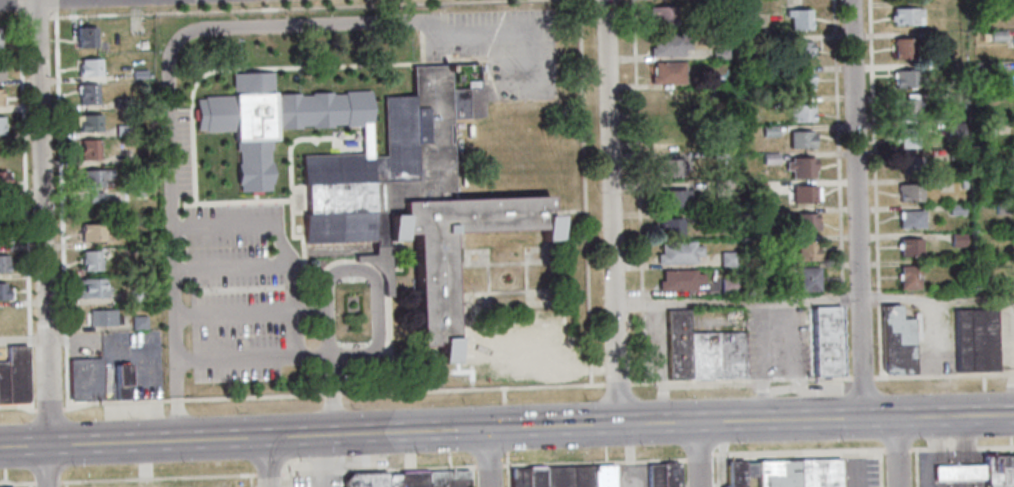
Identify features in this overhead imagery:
road: (40, 1)
road: (18, 4)
road: (54, 4)
building: (714, 6)
road: (239, 9)
building: (661, 15)
building: (907, 17)
building: (798, 18)
road: (335, 22)
building: (764, 30)
building: (997, 35)
building: (984, 36)
building: (937, 37)
building: (85, 38)
building: (1013, 39)
building: (766, 41)
building: (668, 45)
building: (903, 49)
building: (799, 50)
building: (719, 53)
building: (89, 67)
building: (951, 67)
building: (981, 69)
building: (0, 71)
building: (667, 73)
building: (138, 74)
building: (905, 78)
building: (798, 81)
building: (88, 94)
building: (0, 97)
building: (983, 97)
building: (121, 104)
building: (905, 108)
building: (800, 113)
building: (89, 122)
building: (1, 125)
building: (984, 129)
building: (123, 130)
building: (768, 130)
building: (953, 130)
building: (669, 134)
building: (907, 138)
building: (800, 139)
building: (90, 149)
building: (718, 153)
building: (955, 154)
building: (770, 158)
building: (910, 165)
building: (668, 168)
building: (802, 168)
building: (2, 180)
building: (94, 182)
building: (962, 185)
building: (756, 188)
road: (838, 188)
road: (874, 188)
building: (389, 189)
building: (723, 189)
road: (637, 191)
road: (585, 192)
building: (910, 193)
building: (805, 194)
building: (673, 200)
road: (24, 207)
road: (60, 208)
building: (1001, 208)
road: (856, 209)
building: (956, 210)
road: (611, 212)
building: (694, 215)
building: (758, 215)
road: (170, 219)
building: (911, 220)
building: (806, 223)
building: (671, 228)
building: (93, 232)
building: (2, 236)
building: (958, 240)
road: (43, 243)
building: (910, 249)
building: (806, 251)
building: (678, 253)
building: (728, 259)
building: (90, 260)
building: (2, 263)
building: (379, 265)
road: (230, 269)
building: (909, 278)
building: (809, 279)
building: (679, 281)
road: (374, 284)
building: (727, 285)
building: (92, 288)
building: (4, 292)
road: (292, 292)
building: (136, 296)
road: (171, 297)
road: (936, 297)
road: (736, 301)
road: (310, 311)
road: (233, 315)
building: (102, 317)
building: (138, 323)
road: (326, 326)
road: (41, 339)
building: (975, 340)
building: (896, 341)
building: (827, 342)
building: (677, 345)
road: (329, 356)
building: (702, 356)
building: (730, 356)
road: (234, 361)
parking lot: (132, 362)
road: (661, 363)
building: (16, 375)
road: (943, 376)
road: (861, 377)
building: (86, 378)
road: (150, 379)
road: (173, 380)
road: (739, 380)
building: (122, 382)
building: (3, 384)
road: (616, 384)
road: (333, 393)
road: (332, 395)
road: (501, 396)
road: (19, 406)
road: (49, 409)
road: (938, 416)
road: (174, 418)
road: (598, 424)
road: (504, 426)
traffic signals: (488, 429)
road: (300, 436)
road: (964, 440)
road: (133, 441)
road: (961, 447)
road: (897, 449)
road: (797, 451)
road: (896, 452)
road: (697, 454)
road: (627, 455)
road: (721, 455)
road: (935, 455)
road: (697, 456)
road: (488, 457)
road: (938, 459)
road: (268, 461)
road: (593, 462)
road: (488, 465)
road: (914, 467)
road: (379, 468)
road: (506, 468)
road: (879, 468)
road: (715, 470)
building: (981, 470)
road: (938, 471)
road: (966, 471)
road: (269, 472)
road: (680, 473)
building: (737, 473)
building: (797, 473)
building: (662, 474)
road: (470, 476)
building: (556, 476)
building: (580, 476)
building: (601, 476)
parking lot: (629, 476)
road: (157, 477)
building: (517, 477)
building: (534, 477)
road: (285, 479)
building: (448, 479)
road: (250, 480)
building: (413, 480)
building: (365, 481)
road: (17, 482)
road: (47, 482)
building: (392, 482)
road: (939, 482)
road: (967, 482)
road: (64, 484)
building: (8, 486)

